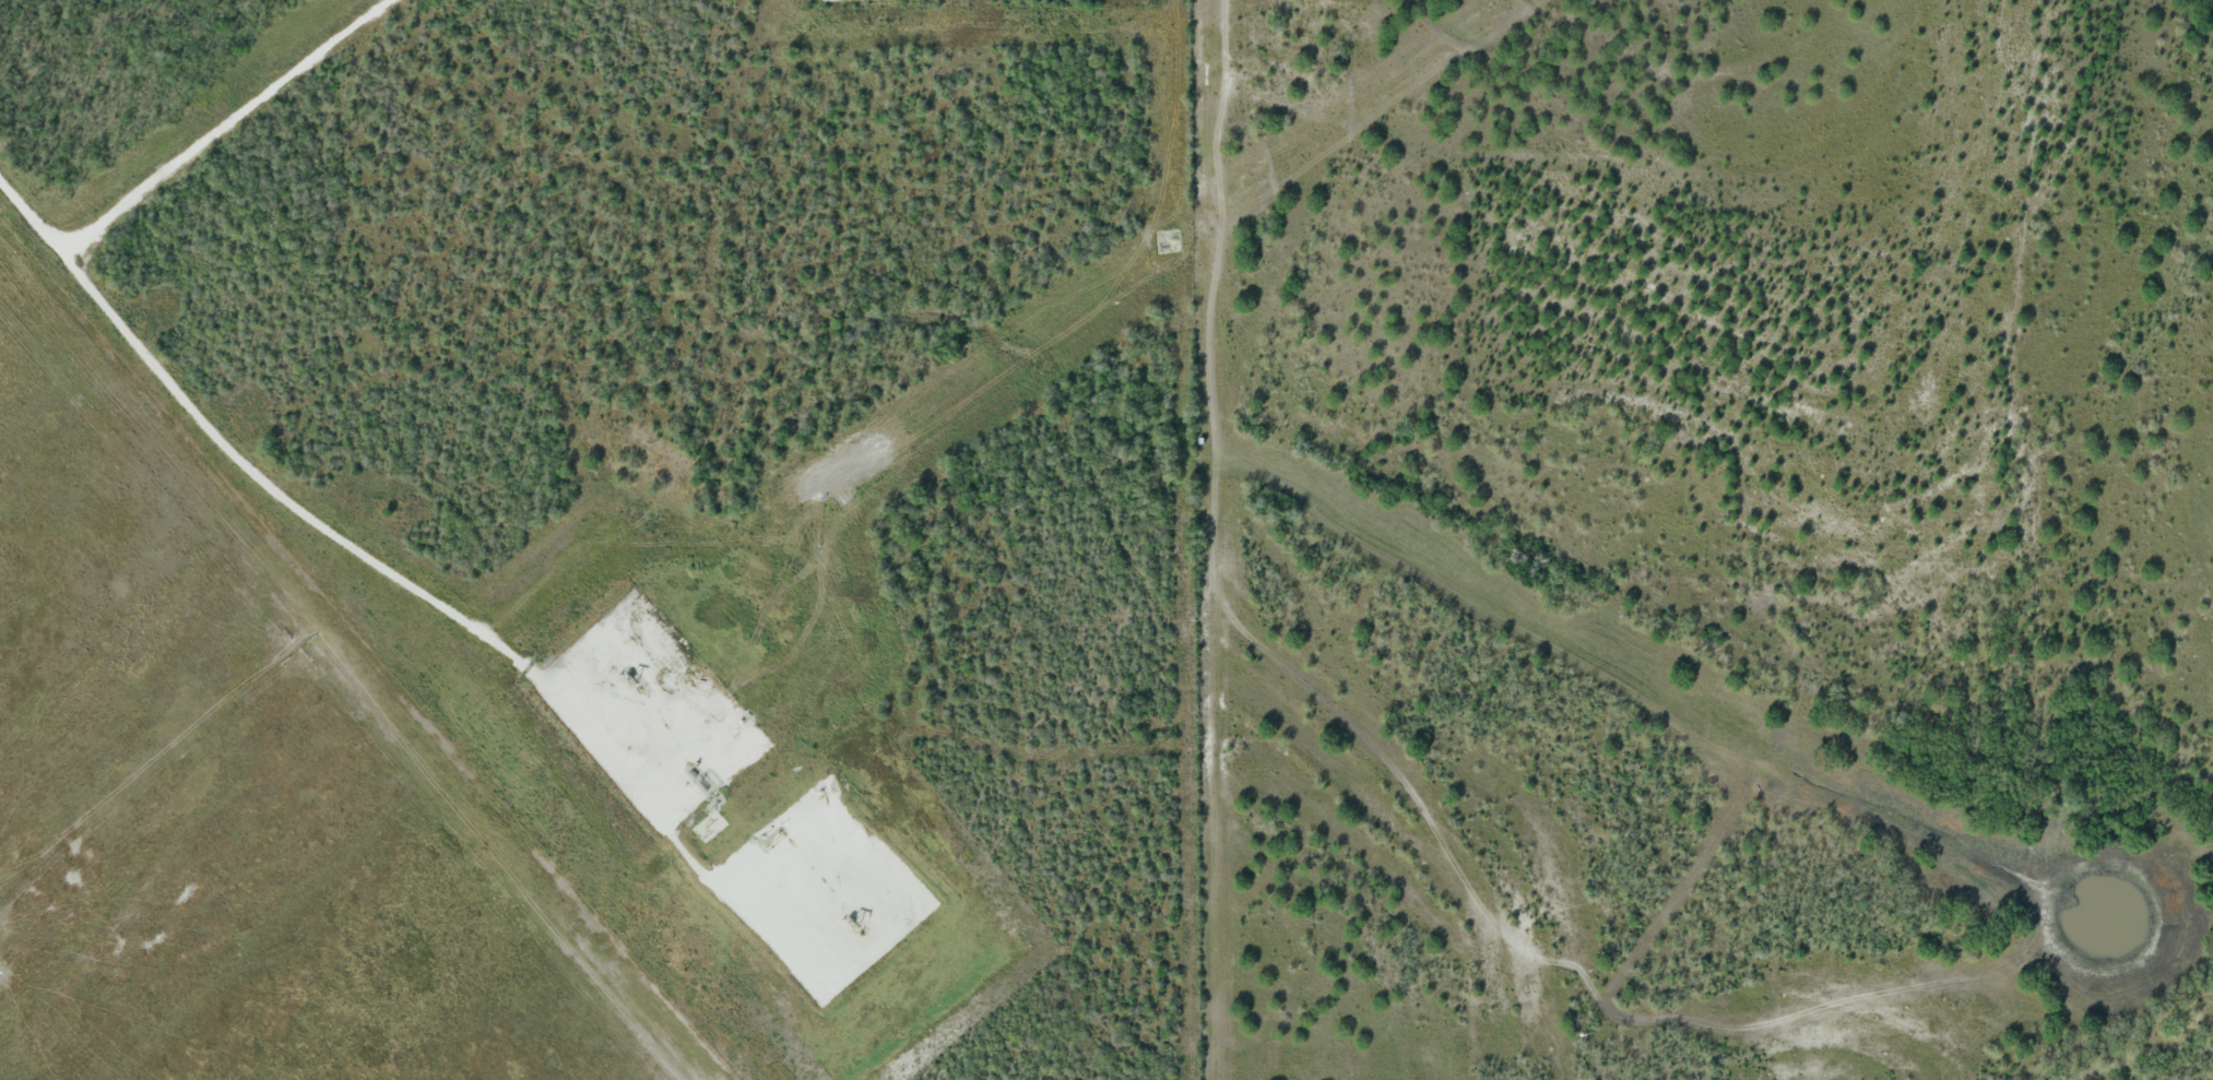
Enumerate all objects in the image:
road: (226, 130)
road: (241, 501)
road: (772, 939)

